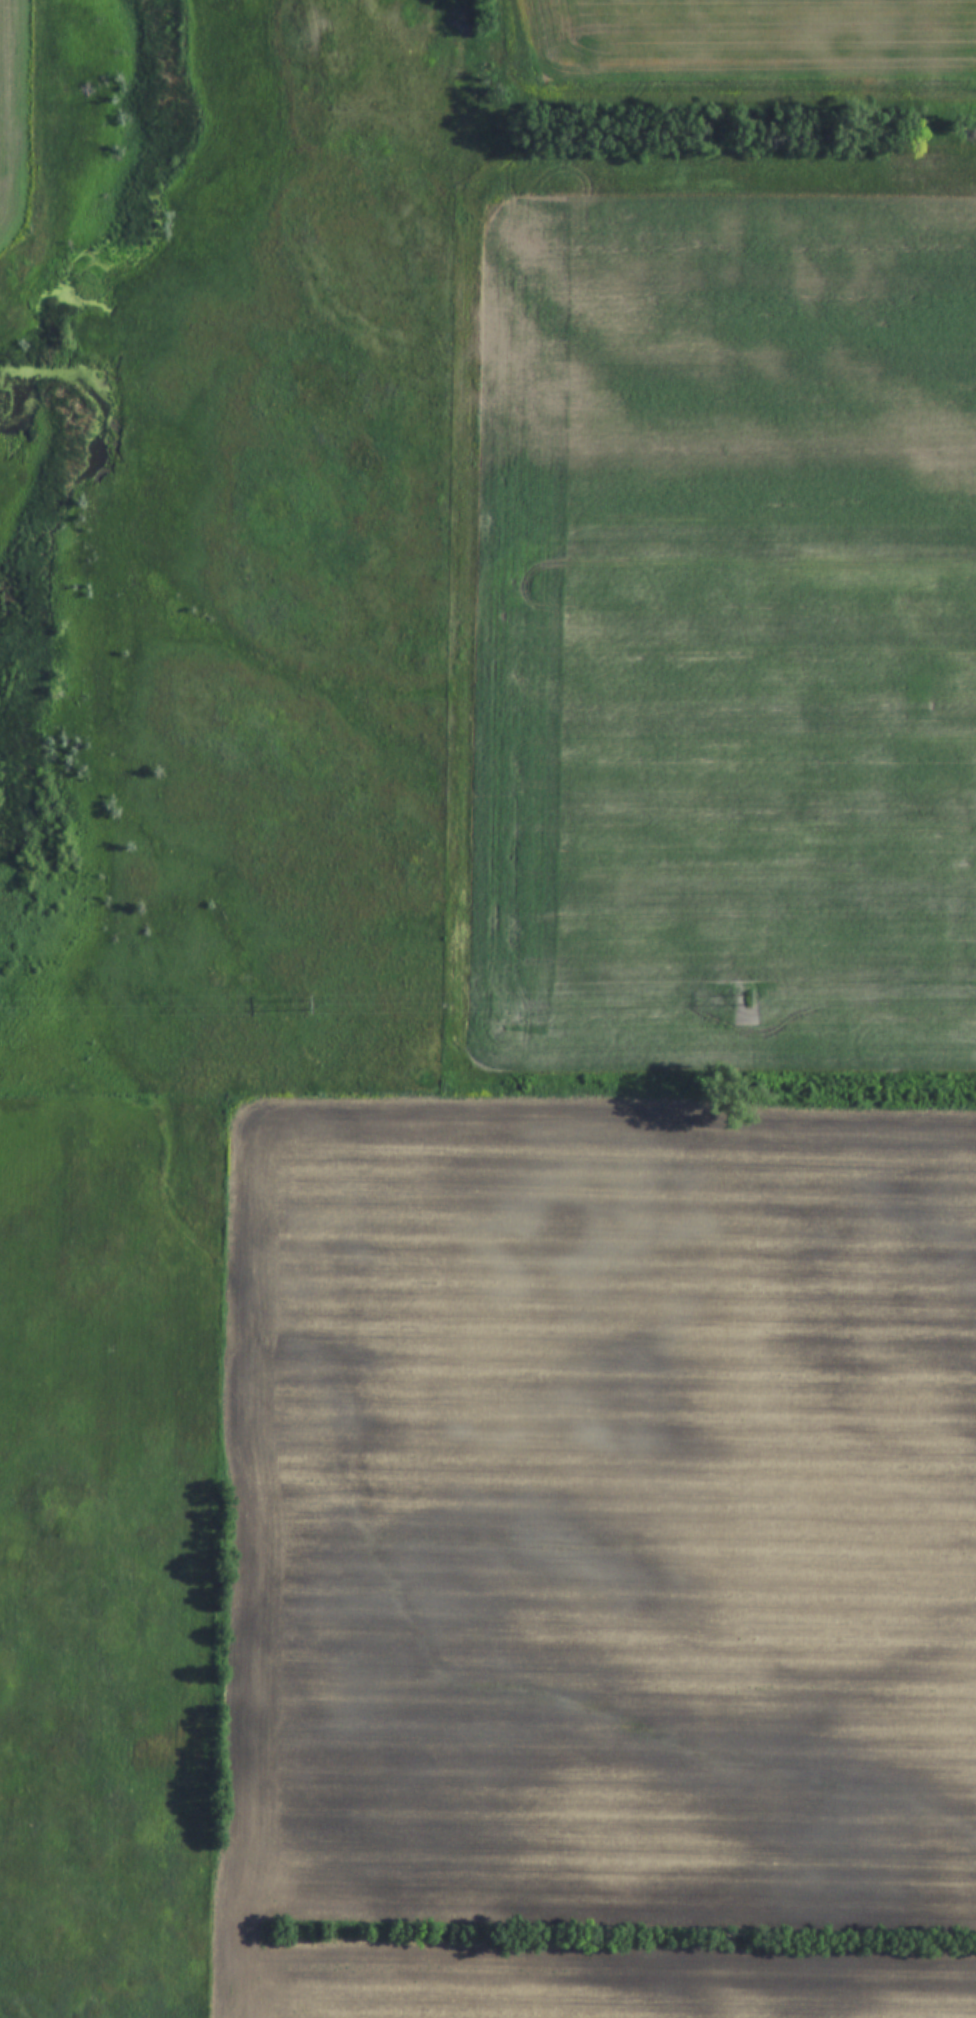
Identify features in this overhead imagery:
power tower: (746, 999)
power tower: (307, 1004)

